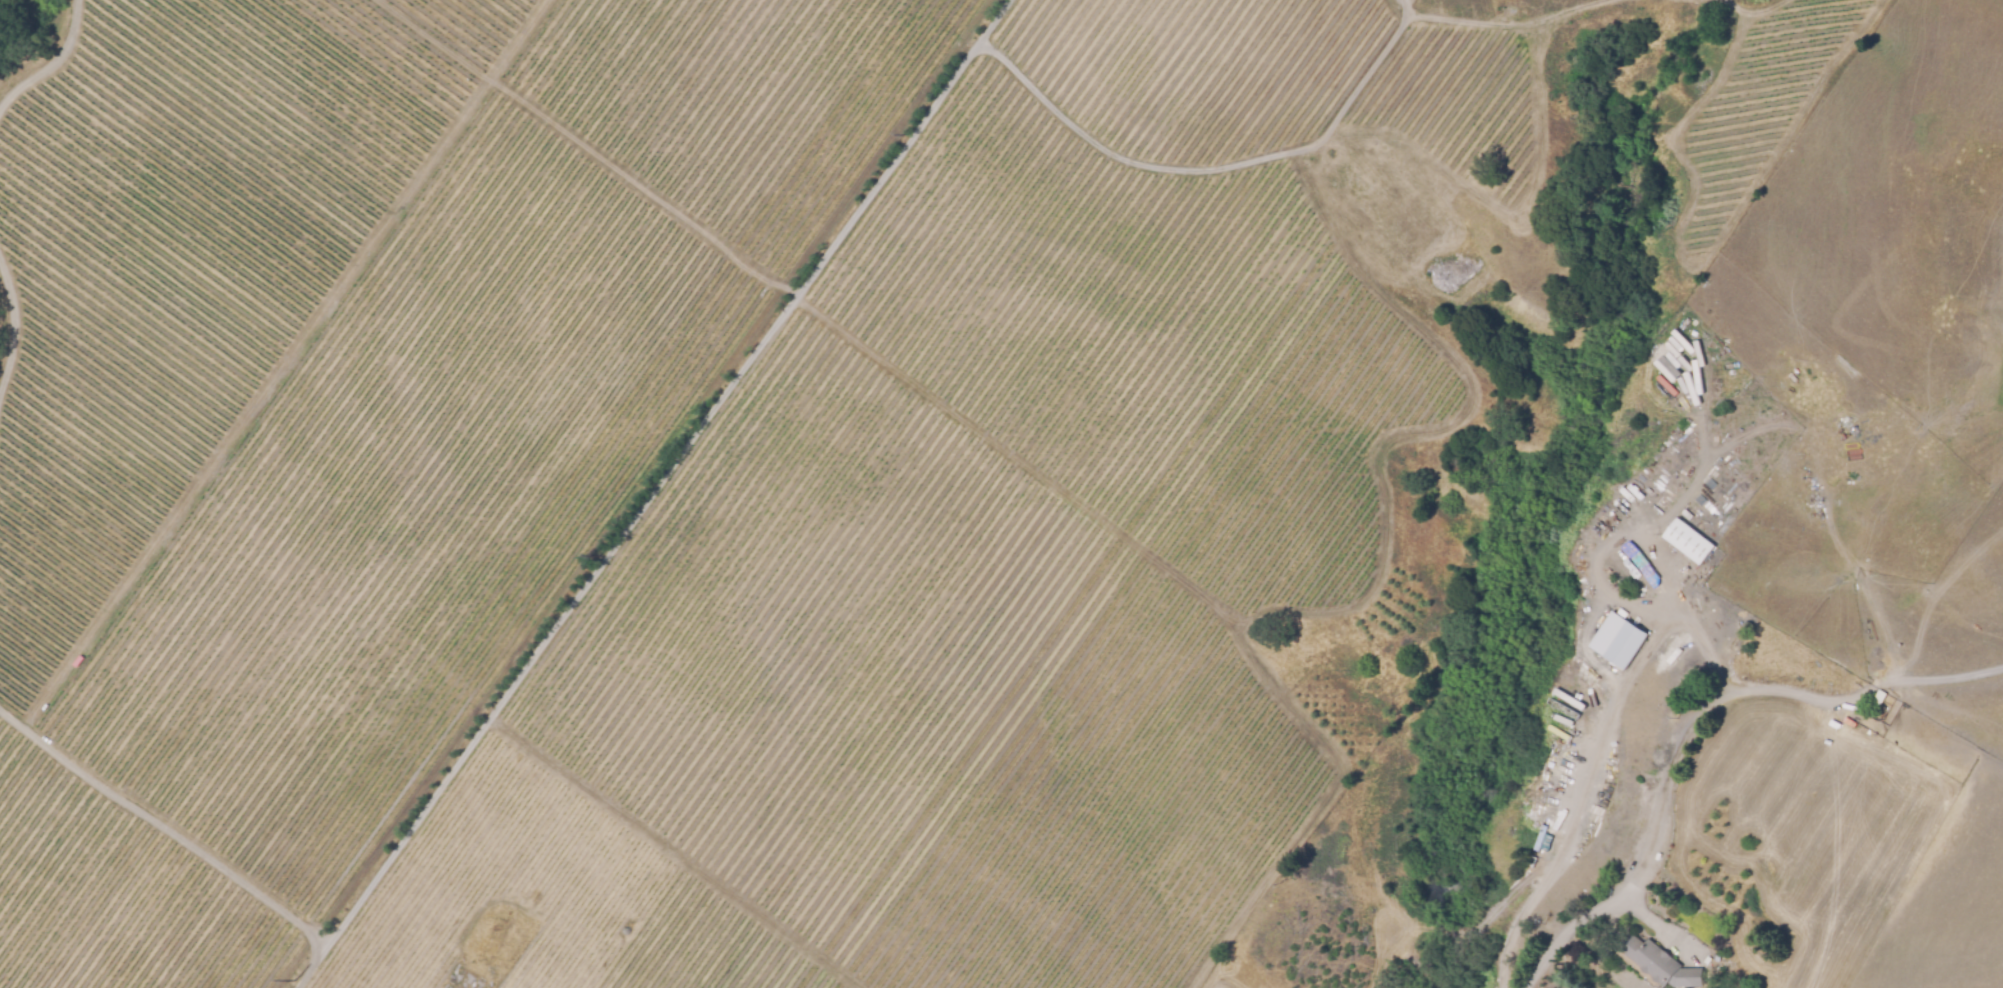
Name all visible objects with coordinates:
building: (1687, 542)
building: (1624, 647)
road: (1688, 717)
road: (1582, 786)
building: (1660, 964)

